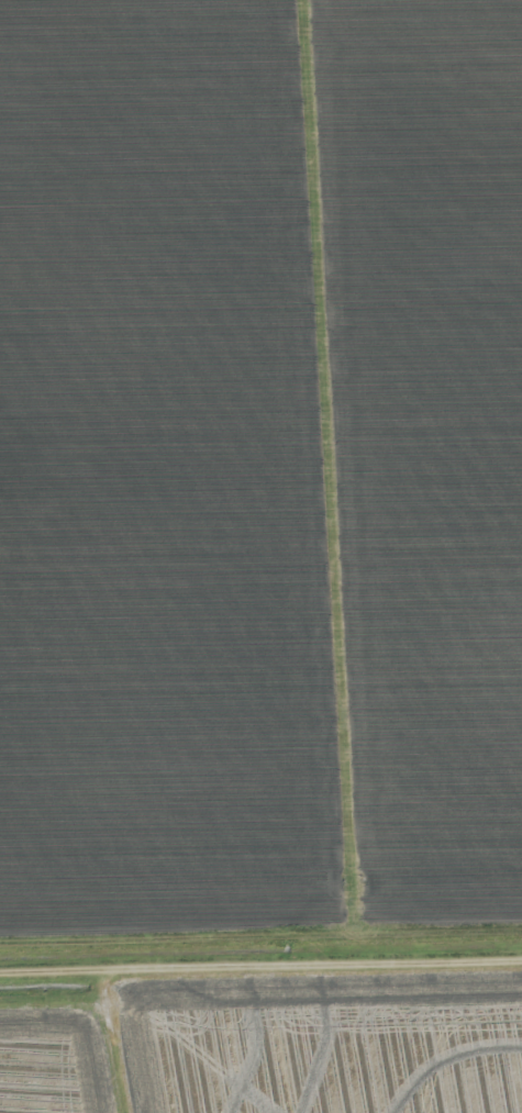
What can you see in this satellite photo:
road: (260, 966)
road: (126, 1040)

